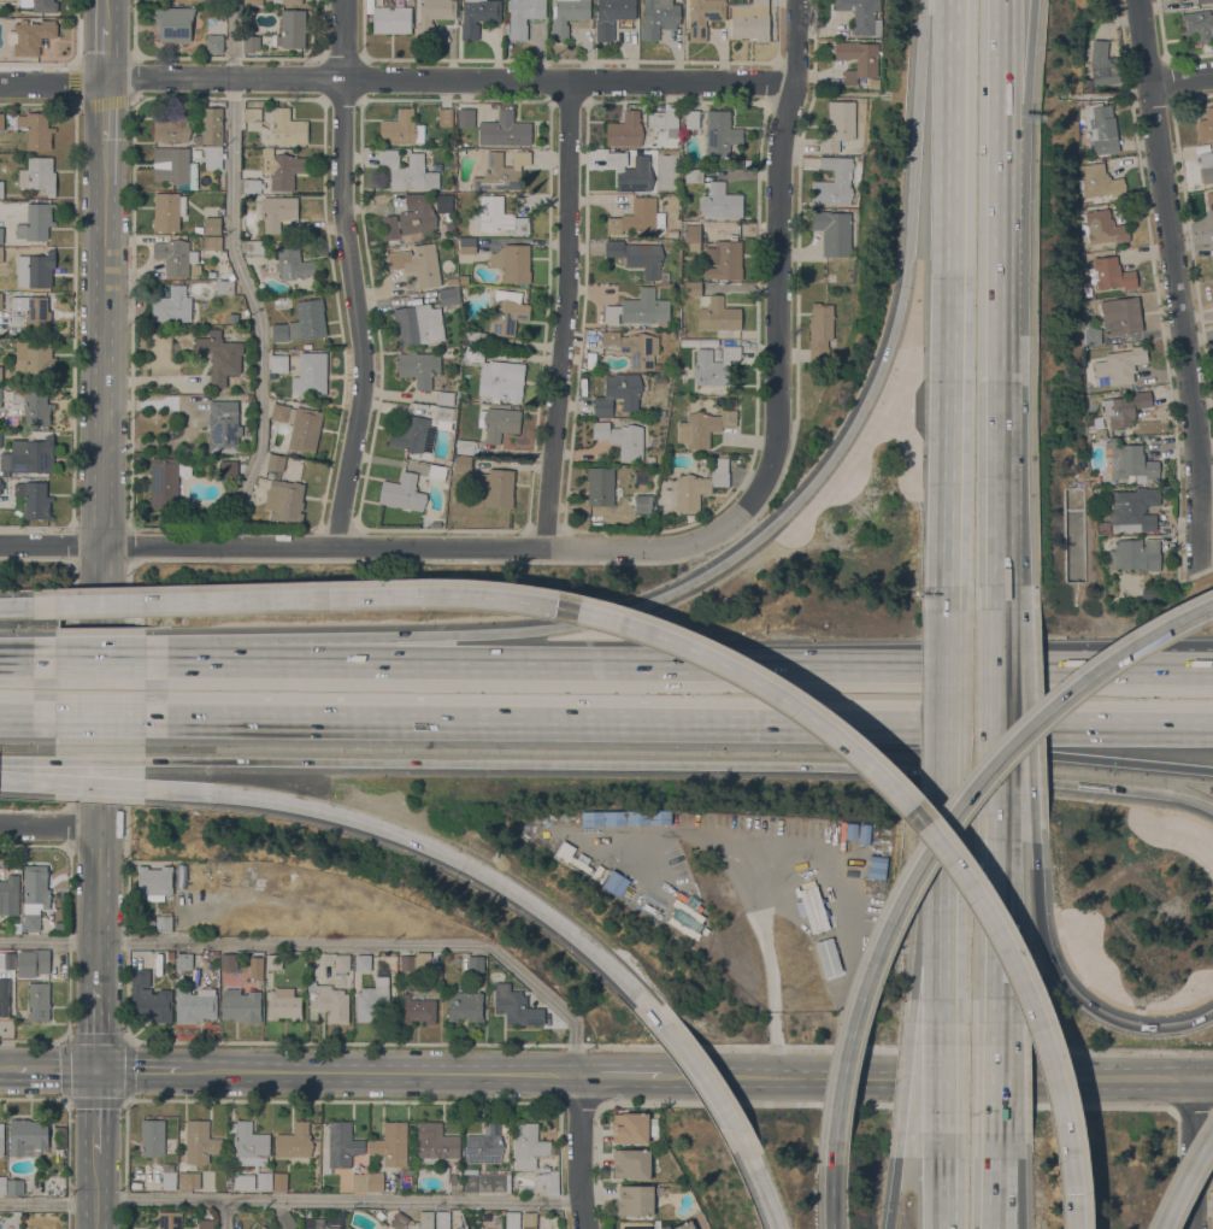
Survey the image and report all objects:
building: (288, 1)
building: (1202, 1)
building: (253, 2)
building: (40, 5)
road: (106, 8)
building: (432, 16)
building: (477, 16)
building: (522, 16)
building: (566, 16)
building: (612, 16)
building: (862, 16)
building: (659, 17)
building: (703, 17)
building: (391, 19)
building: (749, 20)
building: (173, 23)
building: (1197, 24)
building: (292, 29)
building: (30, 36)
road: (230, 39)
building: (214, 43)
building: (251, 43)
road: (106, 47)
road: (1000, 51)
road: (1008, 51)
building: (859, 61)
building: (1102, 65)
road: (452, 78)
road: (1182, 78)
road: (53, 83)
road: (106, 107)
building: (252, 114)
building: (444, 117)
building: (466, 117)
building: (691, 118)
building: (1, 120)
building: (671, 122)
building: (211, 125)
building: (838, 125)
building: (1206, 125)
building: (172, 127)
building: (1101, 127)
building: (287, 128)
building: (36, 129)
building: (401, 129)
building: (505, 129)
road: (917, 129)
building: (625, 130)
building: (720, 134)
building: (1082, 153)
building: (212, 157)
building: (1206, 166)
building: (175, 167)
building: (283, 170)
building: (631, 170)
building: (408, 171)
building: (501, 171)
building: (39, 175)
building: (693, 175)
building: (1099, 181)
building: (834, 182)
building: (252, 184)
building: (1, 189)
building: (1209, 200)
building: (720, 201)
building: (167, 211)
building: (282, 214)
building: (411, 217)
building: (497, 217)
building: (637, 217)
building: (687, 217)
building: (36, 222)
building: (212, 225)
building: (1103, 228)
building: (198, 229)
building: (834, 231)
building: (672, 233)
building: (1, 235)
building: (691, 236)
building: (260, 237)
building: (212, 242)
building: (254, 246)
building: (467, 246)
building: (1, 254)
building: (175, 255)
building: (638, 255)
building: (1212, 257)
building: (724, 260)
building: (512, 261)
building: (293, 263)
building: (1212, 263)
building: (418, 264)
building: (35, 269)
road: (781, 269)
building: (211, 274)
building: (1111, 274)
road: (354, 276)
building: (463, 278)
building: (452, 282)
building: (224, 287)
road: (1176, 287)
building: (691, 289)
road: (948, 293)
building: (447, 296)
building: (1, 300)
building: (171, 305)
building: (640, 308)
building: (33, 312)
road: (257, 312)
road: (566, 314)
building: (718, 314)
building: (1120, 314)
building: (507, 316)
building: (232, 317)
building: (302, 322)
building: (418, 324)
building: (820, 333)
building: (1090, 333)
building: (666, 335)
building: (476, 337)
building: (697, 341)
road: (999, 342)
building: (634, 347)
building: (717, 353)
building: (220, 357)
building: (37, 359)
building: (279, 363)
building: (714, 365)
building: (418, 366)
building: (665, 366)
building: (1118, 366)
building: (0, 374)
building: (311, 374)
building: (496, 376)
road: (102, 381)
building: (0, 393)
building: (619, 393)
building: (444, 398)
building: (34, 405)
building: (1124, 408)
building: (279, 412)
building: (443, 413)
building: (497, 423)
building: (223, 425)
building: (702, 427)
building: (305, 429)
building: (1100, 433)
building: (414, 435)
building: (0, 439)
building: (622, 439)
building: (464, 446)
building: (28, 455)
building: (276, 461)
building: (1130, 461)
building: (461, 464)
building: (229, 469)
building: (298, 470)
building: (437, 471)
building: (1095, 478)
building: (165, 482)
building: (700, 484)
building: (496, 486)
building: (600, 486)
road: (1207, 490)
building: (402, 492)
building: (34, 498)
building: (284, 500)
building: (642, 502)
road: (791, 506)
building: (658, 508)
building: (1132, 508)
building: (1103, 527)
road: (367, 548)
building: (1135, 554)
building: (1154, 592)
road: (295, 596)
road: (16, 605)
road: (999, 634)
road: (390, 643)
road: (117, 659)
road: (1131, 659)
road: (723, 664)
road: (946, 710)
road: (385, 719)
road: (991, 724)
road: (991, 749)
road: (999, 760)
road: (1027, 760)
road: (766, 764)
road: (158, 766)
road: (914, 812)
road: (348, 817)
building: (626, 817)
road: (49, 824)
building: (850, 830)
road: (943, 831)
building: (864, 833)
building: (572, 857)
road: (746, 865)
building: (877, 866)
building: (599, 874)
building: (154, 880)
building: (616, 882)
building: (35, 884)
building: (8, 895)
road: (99, 895)
road: (944, 899)
building: (812, 908)
building: (687, 916)
building: (31, 921)
building: (164, 923)
building: (705, 930)
road: (329, 943)
building: (212, 953)
building: (447, 955)
building: (825, 955)
building: (41, 958)
building: (7, 959)
building: (183, 962)
building: (228, 962)
building: (273, 962)
building: (363, 962)
building: (414, 962)
building: (341, 963)
building: (476, 963)
building: (254, 968)
road: (996, 987)
road: (1071, 990)
building: (4, 994)
building: (148, 998)
building: (372, 999)
building: (39, 1001)
building: (329, 1001)
building: (194, 1004)
building: (282, 1004)
building: (240, 1005)
building: (465, 1005)
building: (518, 1009)
building: (416, 1010)
road: (98, 1028)
road: (7, 1069)
road: (55, 1069)
traffic signals: (98, 1069)
road: (139, 1070)
road: (378, 1074)
road: (700, 1074)
road: (619, 1076)
road: (919, 1076)
road: (778, 1077)
road: (1121, 1077)
road: (944, 1081)
road: (98, 1110)
building: (653, 1127)
building: (630, 1128)
building: (27, 1135)
building: (1, 1137)
building: (152, 1137)
road: (577, 1137)
building: (294, 1141)
building: (436, 1141)
building: (199, 1142)
building: (342, 1143)
building: (390, 1143)
building: (249, 1145)
building: (528, 1146)
road: (1194, 1152)
building: (484, 1160)
building: (631, 1163)
building: (546, 1170)
building: (167, 1176)
road: (1183, 1176)
building: (188, 1180)
building: (264, 1181)
building: (279, 1181)
building: (359, 1181)
building: (243, 1182)
building: (375, 1182)
building: (454, 1182)
building: (547, 1182)
road: (994, 1182)
building: (2, 1184)
building: (523, 1186)
building: (675, 1186)
building: (14, 1187)
road: (96, 1189)
building: (658, 1189)
road: (764, 1192)
road: (832, 1198)
road: (336, 1200)
building: (635, 1200)
road: (48, 1204)
road: (891, 1209)
road: (1203, 1209)
road: (1073, 1211)
road: (943, 1213)
road: (225, 1215)
building: (379, 1215)
road: (581, 1215)
building: (169, 1219)
building: (425, 1219)
building: (442, 1219)
building: (511, 1219)
building: (287, 1221)
building: (399, 1221)
building: (529, 1221)
building: (204, 1223)
building: (316, 1224)
building: (685, 1225)
building: (263, 1227)
building: (347, 1227)
building: (475, 1227)
building: (638, 1228)

